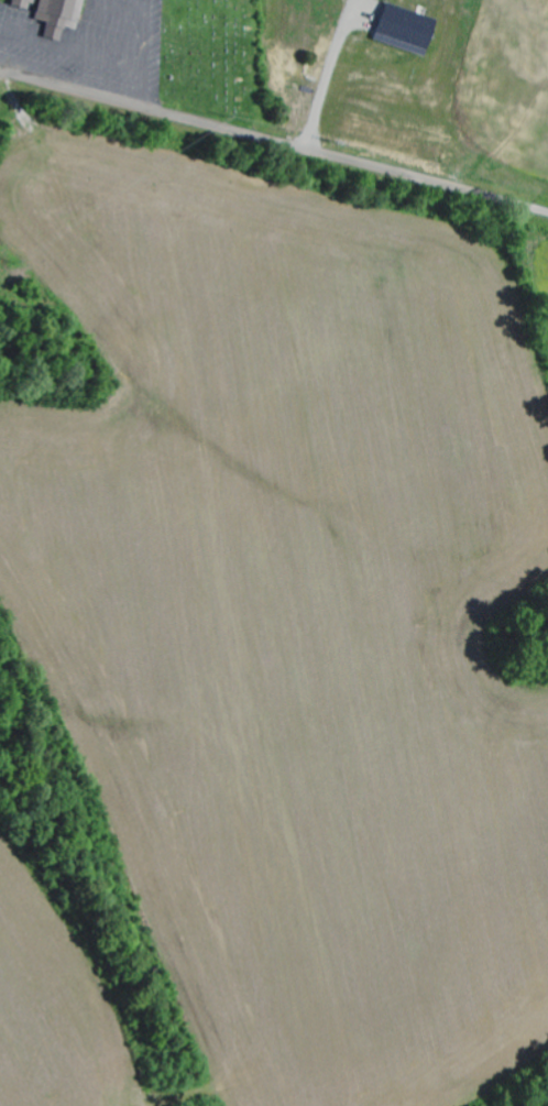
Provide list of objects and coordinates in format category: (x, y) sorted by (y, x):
building: (25, 3)
building: (64, 17)
building: (410, 30)
park: (207, 56)
road: (255, 138)

